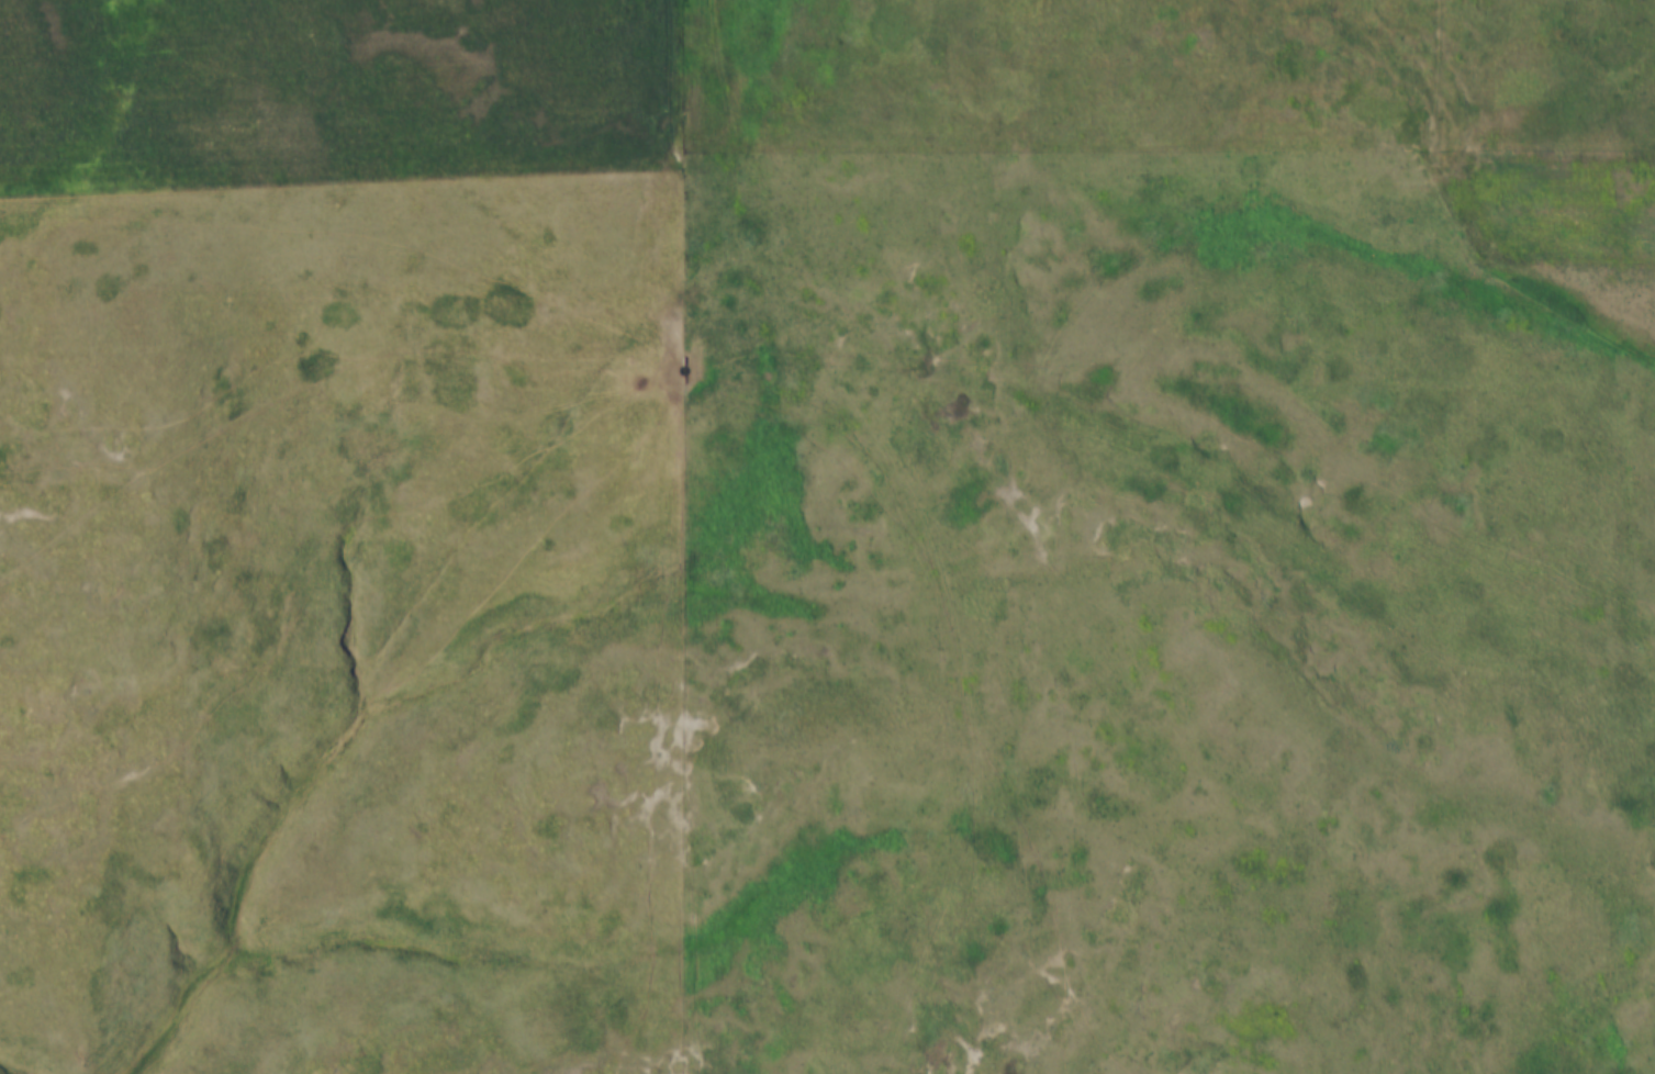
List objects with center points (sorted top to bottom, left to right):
road: (904, 478)
road: (692, 536)

